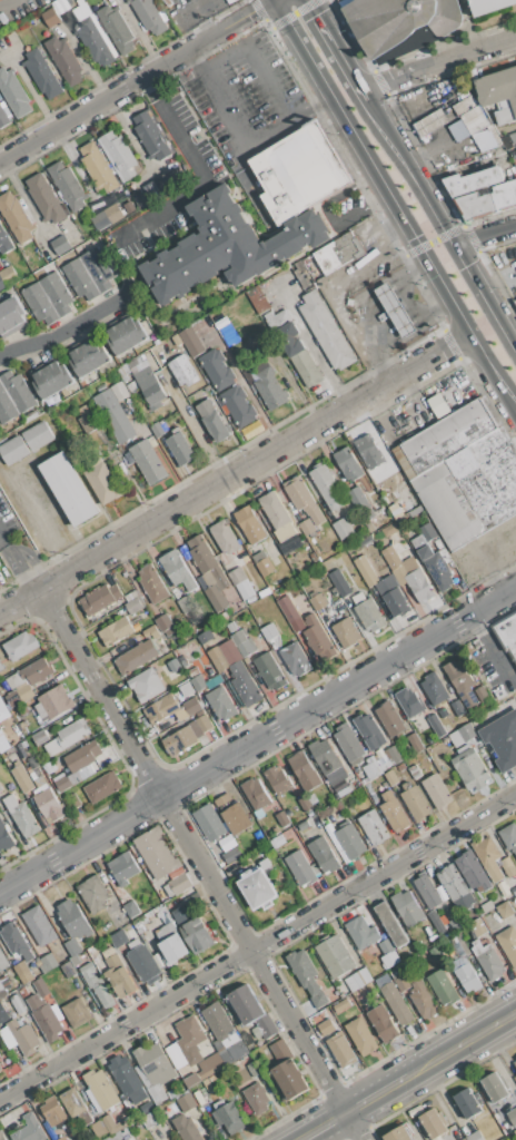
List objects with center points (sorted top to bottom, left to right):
road: (7, 3)
building: (489, 6)
building: (149, 16)
building: (50, 18)
building: (400, 23)
building: (116, 28)
building: (93, 42)
road: (331, 50)
road: (251, 59)
building: (63, 60)
road: (436, 63)
building: (41, 73)
road: (135, 82)
road: (149, 88)
building: (13, 94)
building: (499, 94)
parking lot: (245, 97)
road: (212, 98)
building: (465, 106)
building: (3, 117)
road: (285, 119)
building: (475, 120)
building: (430, 122)
building: (150, 136)
building: (513, 137)
road: (424, 155)
building: (120, 156)
building: (97, 167)
building: (300, 173)
building: (472, 180)
road: (200, 181)
building: (68, 187)
building: (44, 199)
building: (140, 199)
building: (488, 202)
road: (395, 204)
building: (129, 207)
building: (112, 214)
road: (328, 215)
building: (16, 217)
building: (100, 220)
road: (439, 226)
road: (483, 233)
traffic signals: (414, 236)
road: (431, 240)
building: (4, 242)
building: (60, 245)
building: (227, 246)
traffic signals: (451, 247)
building: (338, 253)
building: (88, 274)
building: (9, 276)
building: (2, 283)
building: (48, 298)
building: (257, 299)
building: (395, 311)
building: (11, 317)
building: (326, 331)
road: (64, 334)
building: (125, 336)
building: (191, 342)
building: (298, 355)
building: (88, 358)
building: (218, 368)
building: (183, 371)
building: (51, 379)
building: (150, 387)
building: (270, 389)
building: (13, 396)
building: (437, 404)
building: (239, 406)
building: (115, 416)
building: (88, 420)
building: (211, 421)
building: (156, 430)
road: (196, 431)
building: (38, 435)
building: (179, 448)
building: (13, 450)
building: (369, 451)
building: (148, 462)
building: (348, 463)
building: (462, 472)
road: (236, 473)
building: (395, 474)
building: (101, 481)
building: (327, 485)
building: (69, 489)
building: (301, 499)
building: (360, 503)
building: (277, 517)
building: (400, 522)
building: (250, 524)
building: (369, 525)
building: (306, 527)
building: (341, 527)
building: (390, 529)
building: (424, 535)
road: (3, 537)
building: (226, 537)
building: (204, 557)
building: (393, 560)
road: (29, 562)
building: (262, 562)
building: (438, 566)
road: (21, 568)
building: (177, 570)
building: (366, 570)
building: (417, 580)
building: (339, 582)
building: (240, 583)
building: (152, 584)
building: (131, 596)
building: (100, 598)
building: (216, 598)
building: (317, 601)
building: (397, 602)
building: (133, 605)
building: (183, 605)
building: (367, 612)
building: (291, 616)
building: (166, 621)
building: (116, 631)
building: (268, 631)
building: (150, 632)
building: (346, 632)
building: (506, 632)
building: (316, 635)
building: (240, 640)
building: (20, 645)
road: (490, 648)
building: (136, 657)
building: (218, 658)
building: (295, 659)
building: (1, 666)
building: (173, 666)
building: (270, 670)
building: (27, 681)
building: (198, 682)
building: (245, 682)
building: (459, 682)
building: (146, 685)
building: (434, 688)
building: (186, 689)
building: (482, 692)
building: (410, 701)
building: (221, 702)
building: (53, 704)
building: (191, 706)
building: (457, 707)
building: (161, 709)
building: (181, 714)
building: (390, 718)
building: (437, 725)
building: (0, 728)
building: (370, 730)
building: (188, 735)
building: (463, 735)
building: (40, 737)
building: (67, 737)
building: (502, 739)
road: (258, 740)
building: (415, 743)
building: (348, 744)
building: (393, 755)
building: (82, 756)
building: (327, 760)
building: (384, 761)
building: (373, 767)
building: (49, 768)
building: (470, 768)
building: (304, 770)
building: (414, 772)
building: (391, 777)
building: (22, 778)
building: (278, 779)
building: (39, 782)
building: (62, 782)
building: (103, 786)
building: (341, 786)
building: (0, 788)
building: (437, 790)
building: (256, 793)
building: (72, 800)
building: (305, 803)
building: (416, 803)
building: (338, 805)
building: (49, 806)
building: (394, 812)
building: (234, 813)
building: (21, 816)
building: (282, 819)
building: (209, 822)
building: (302, 825)
building: (374, 827)
building: (4, 836)
building: (509, 836)
building: (277, 841)
building: (350, 842)
building: (228, 843)
building: (156, 853)
building: (232, 854)
building: (322, 854)
building: (488, 857)
road: (201, 864)
building: (265, 864)
building: (122, 867)
building: (507, 867)
building: (301, 868)
building: (473, 872)
road: (384, 873)
building: (179, 883)
building: (454, 883)
building: (257, 888)
building: (168, 890)
building: (427, 891)
building: (93, 893)
building: (160, 893)
building: (487, 906)
building: (131, 908)
building: (409, 910)
building: (505, 910)
building: (73, 918)
building: (437, 922)
building: (456, 923)
building: (390, 924)
building: (39, 925)
building: (478, 927)
building: (192, 930)
building: (361, 933)
building: (119, 938)
building: (16, 941)
building: (508, 943)
building: (170, 944)
building: (386, 946)
building: (458, 946)
building: (72, 947)
building: (335, 956)
building: (75, 960)
building: (488, 960)
building: (3, 962)
building: (49, 962)
building: (143, 964)
building: (68, 969)
building: (23, 973)
building: (465, 974)
building: (306, 975)
building: (118, 976)
building: (358, 980)
building: (401, 983)
building: (4, 985)
building: (98, 985)
building: (41, 987)
building: (443, 987)
building: (421, 997)
building: (396, 1003)
building: (18, 1004)
building: (341, 1005)
building: (0, 1012)
building: (76, 1012)
building: (251, 1012)
building: (46, 1018)
building: (381, 1023)
building: (220, 1024)
road: (126, 1026)
building: (361, 1035)
building: (23, 1036)
building: (334, 1038)
building: (187, 1042)
road: (462, 1044)
building: (237, 1051)
building: (222, 1052)
building: (515, 1059)
building: (155, 1063)
building: (515, 1063)
building: (0, 1069)
building: (254, 1069)
building: (206, 1070)
building: (287, 1071)
building: (127, 1079)
building: (151, 1085)
building: (208, 1085)
building: (494, 1087)
building: (100, 1089)
building: (171, 1094)
road: (376, 1094)
building: (257, 1098)
building: (187, 1102)
building: (468, 1102)
building: (76, 1105)
building: (147, 1108)
building: (54, 1112)
building: (227, 1113)
building: (512, 1116)
building: (148, 1120)
building: (434, 1122)
building: (10, 1123)
building: (112, 1124)
road: (322, 1126)
building: (99, 1128)
building: (186, 1128)
building: (30, 1129)
building: (52, 1132)
building: (397, 1134)
building: (474, 1136)
building: (1, 1137)
building: (128, 1138)
building: (437, 1138)
building: (156, 1139)
building: (464, 1139)
building: (502, 1139)

